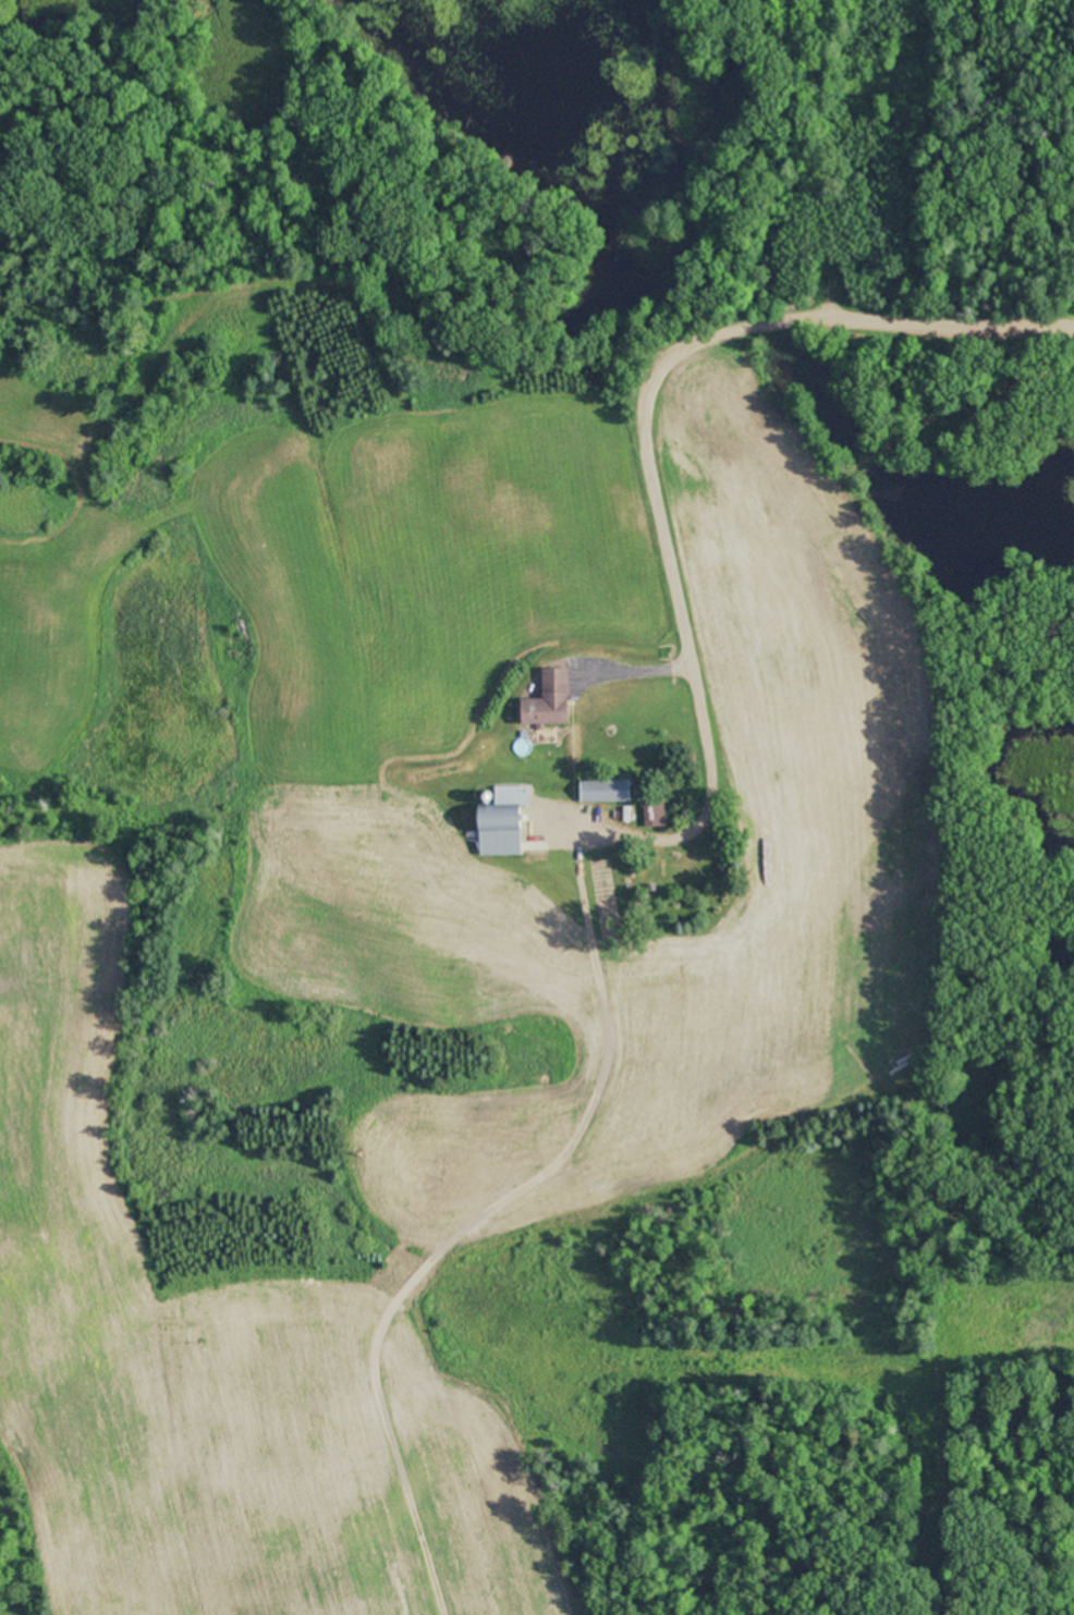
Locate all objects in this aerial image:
road: (761, 166)
road: (662, 374)
building: (548, 700)
building: (605, 791)
building: (654, 815)
building: (501, 822)

